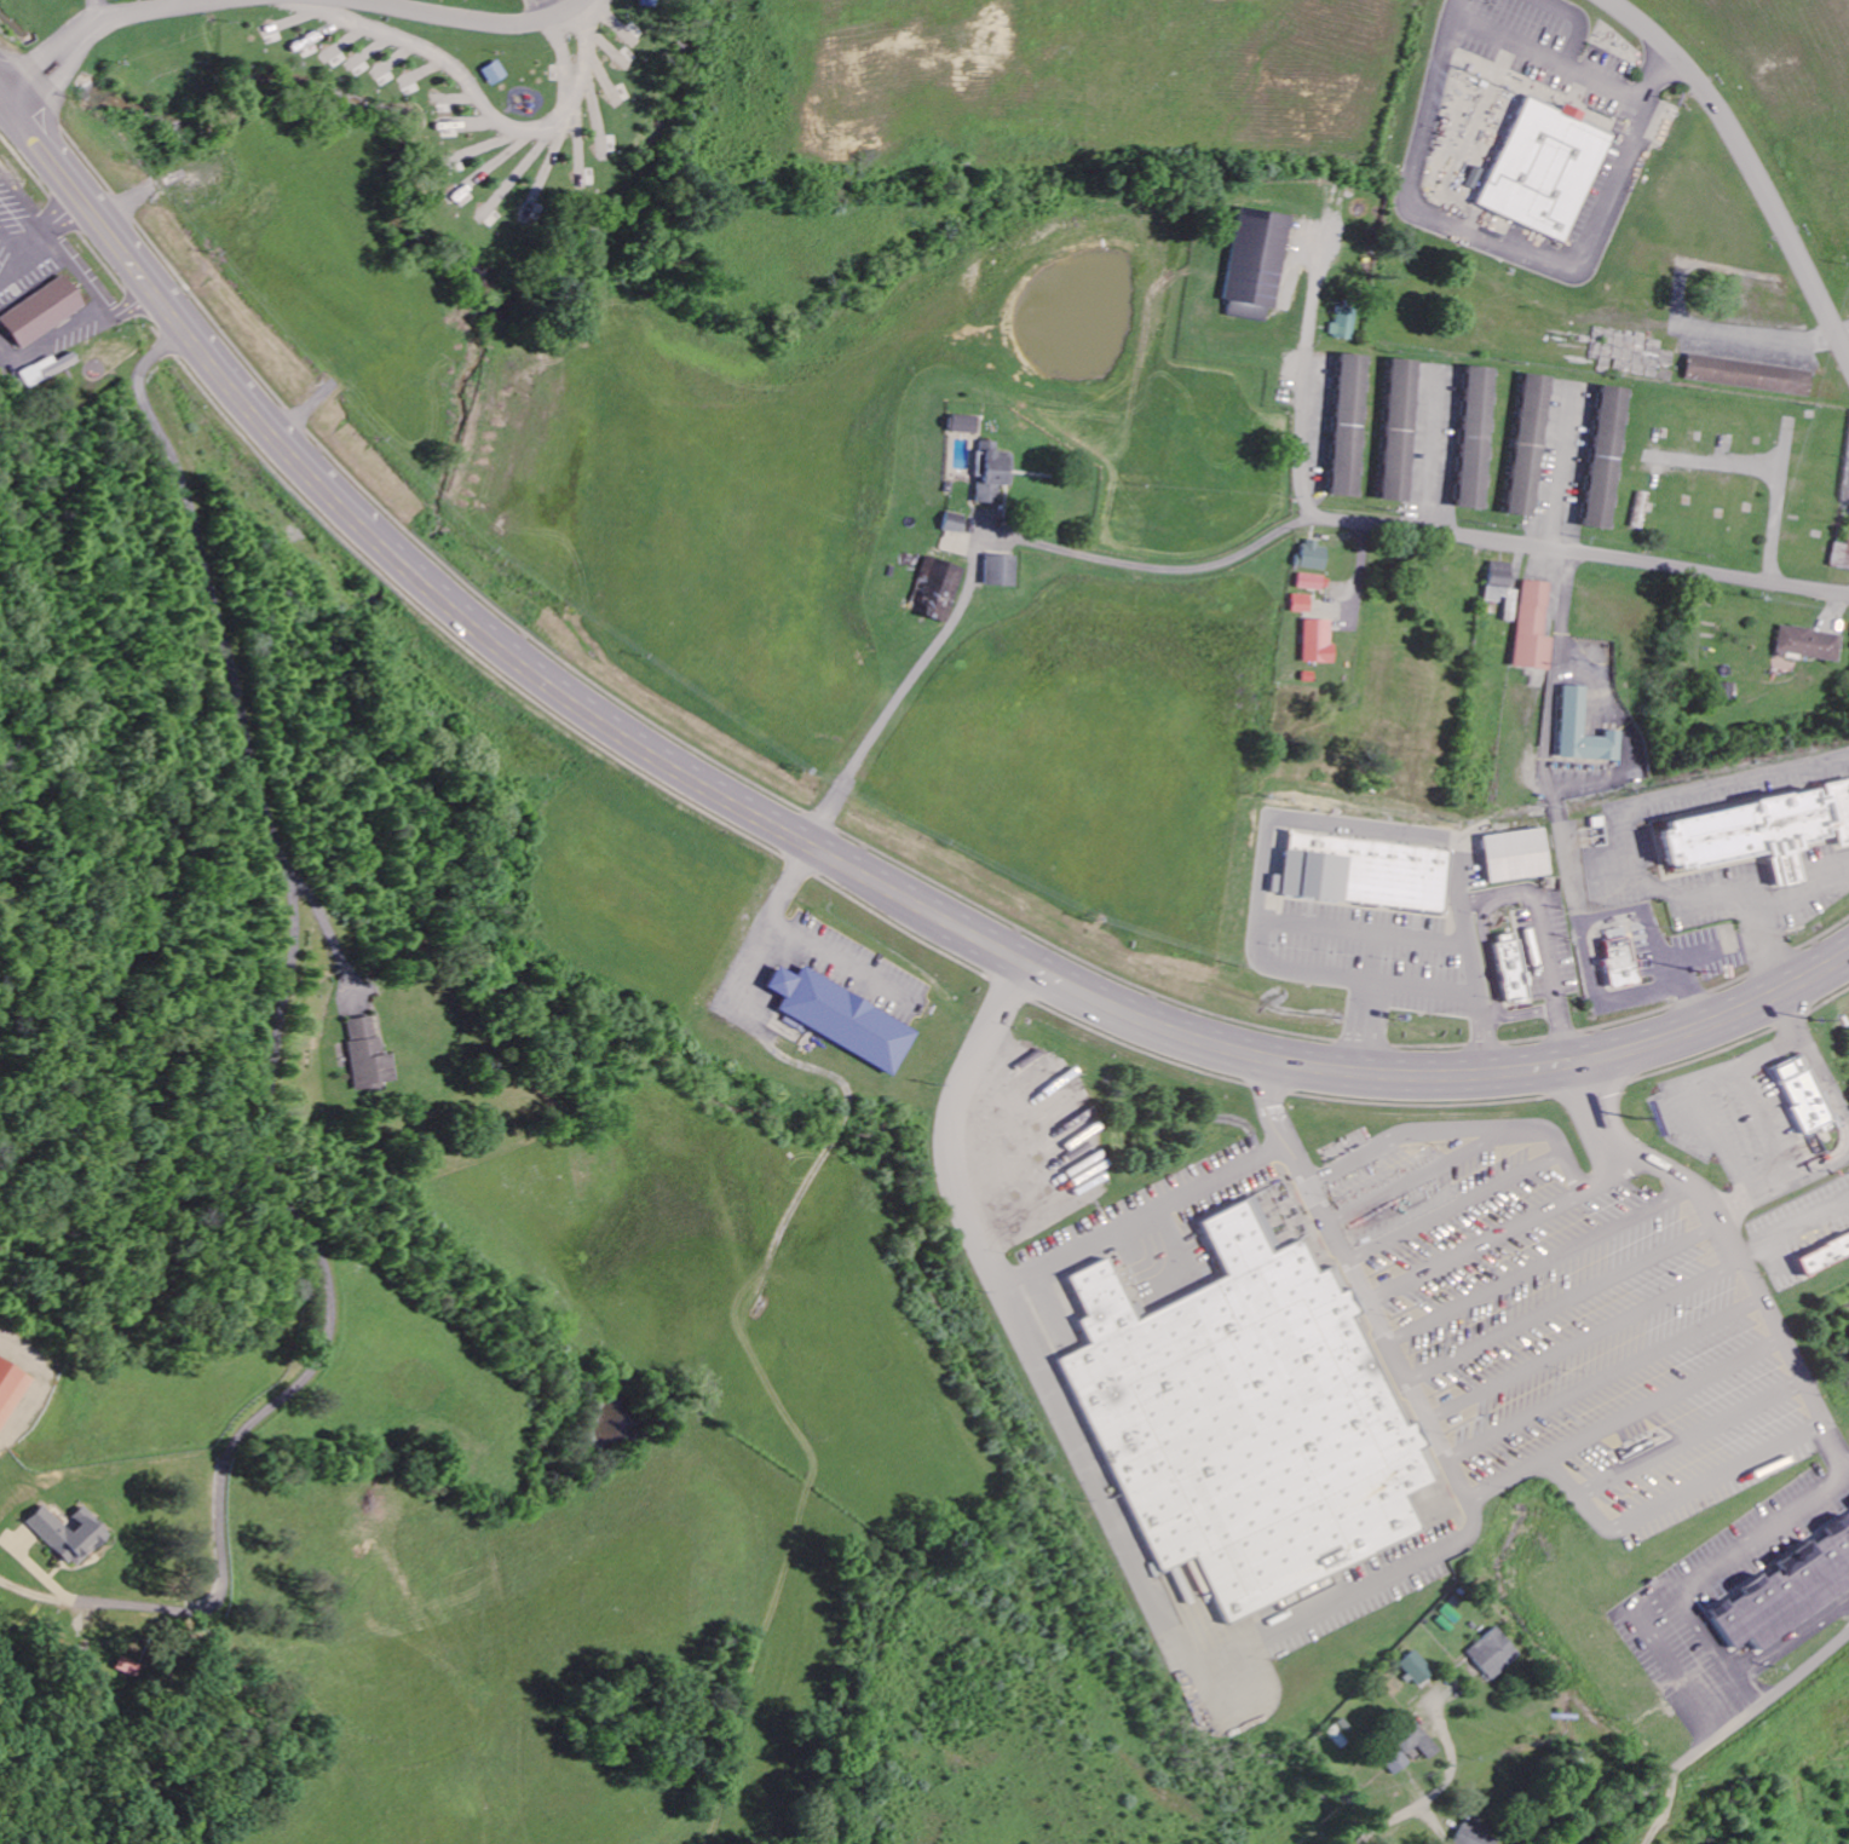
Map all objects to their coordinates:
water park: (499, 2)
road: (548, 6)
road: (461, 21)
road: (98, 28)
road: (1554, 60)
building: (496, 74)
road: (7, 86)
road: (1749, 160)
building: (461, 162)
building: (1549, 174)
building: (466, 195)
building: (494, 212)
road: (1507, 248)
building: (1258, 263)
building: (48, 310)
road: (185, 321)
building: (1347, 323)
road: (1763, 333)
building: (54, 370)
building: (1749, 375)
building: (963, 425)
building: (1349, 425)
building: (1400, 431)
building: (1475, 437)
building: (1528, 445)
road: (1435, 449)
building: (1606, 457)
road: (1717, 466)
road: (1566, 468)
building: (991, 473)
road: (1776, 502)
building: (954, 523)
road: (1434, 529)
building: (1313, 555)
building: (1841, 555)
building: (1000, 570)
road: (1136, 571)
building: (1313, 582)
building: (1502, 588)
building: (937, 589)
building: (1302, 604)
building: (1532, 627)
building: (1318, 641)
building: (1807, 644)
building: (1724, 692)
building: (1584, 731)
road: (651, 738)
road: (1554, 820)
building: (1762, 831)
building: (1519, 855)
building: (1365, 872)
road: (1499, 891)
road: (768, 920)
road: (1657, 941)
road: (845, 962)
building: (1622, 963)
building: (1513, 968)
building: (841, 1019)
road: (271, 1051)
building: (367, 1055)
road: (1811, 1061)
road: (1395, 1071)
road: (1690, 1093)
building: (1802, 1094)
road: (1761, 1123)
road: (1457, 1129)
road: (1654, 1159)
road: (1402, 1177)
road: (1786, 1180)
road: (1455, 1205)
road: (1140, 1214)
road: (1795, 1226)
road: (1502, 1232)
building: (1825, 1251)
road: (1545, 1264)
road: (1000, 1295)
road: (1567, 1304)
road: (1585, 1341)
road: (1605, 1378)
building: (11, 1390)
road: (1413, 1395)
road: (1624, 1418)
building: (1242, 1419)
road: (1689, 1434)
road: (1756, 1454)
building: (71, 1535)
building: (1787, 1589)
building: (1496, 1654)
road: (1212, 1655)
building: (123, 1669)
building: (1418, 1670)
building: (1419, 1741)
road: (1711, 1742)
building: (1399, 1762)
road: (1407, 1815)
building: (1476, 1837)

